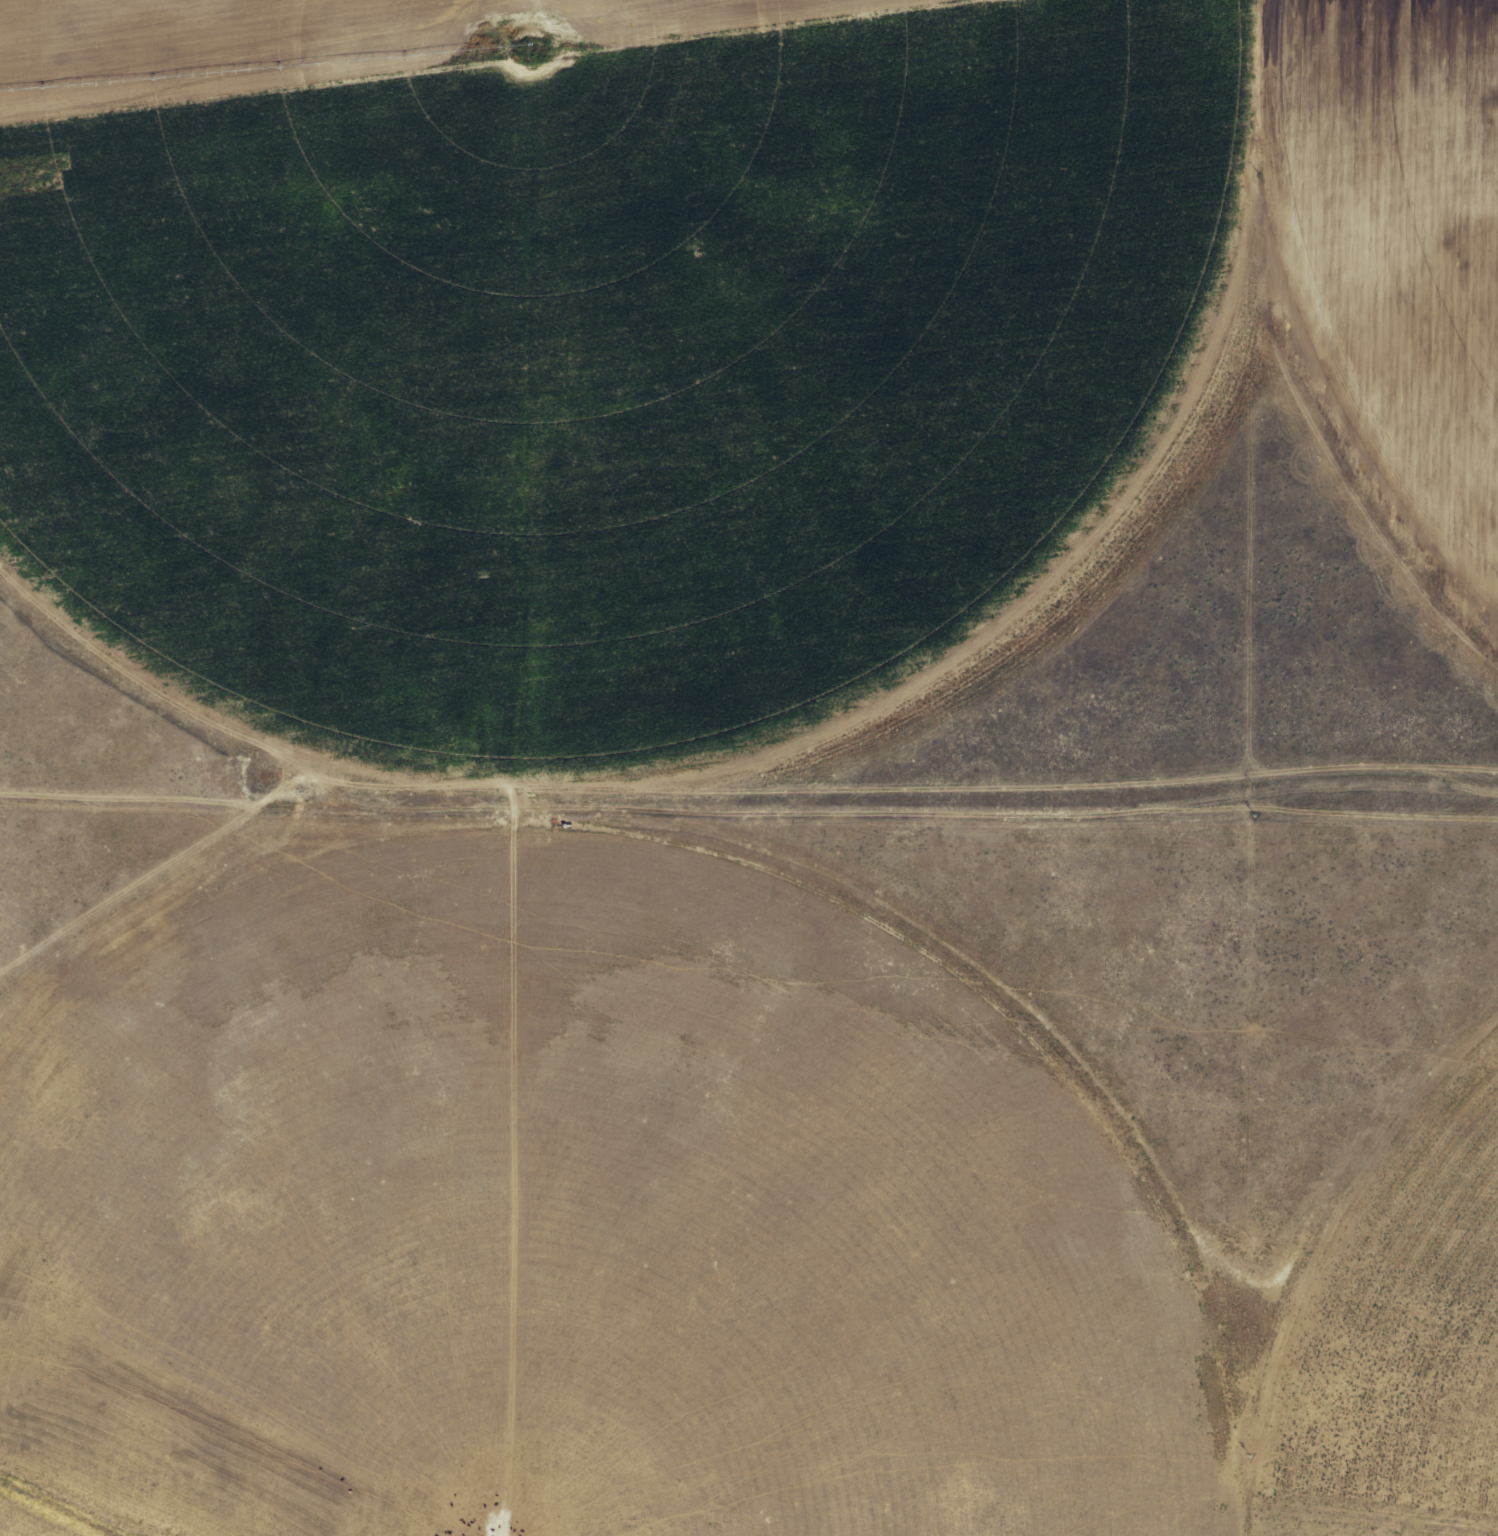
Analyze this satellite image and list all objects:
road: (484, 767)

